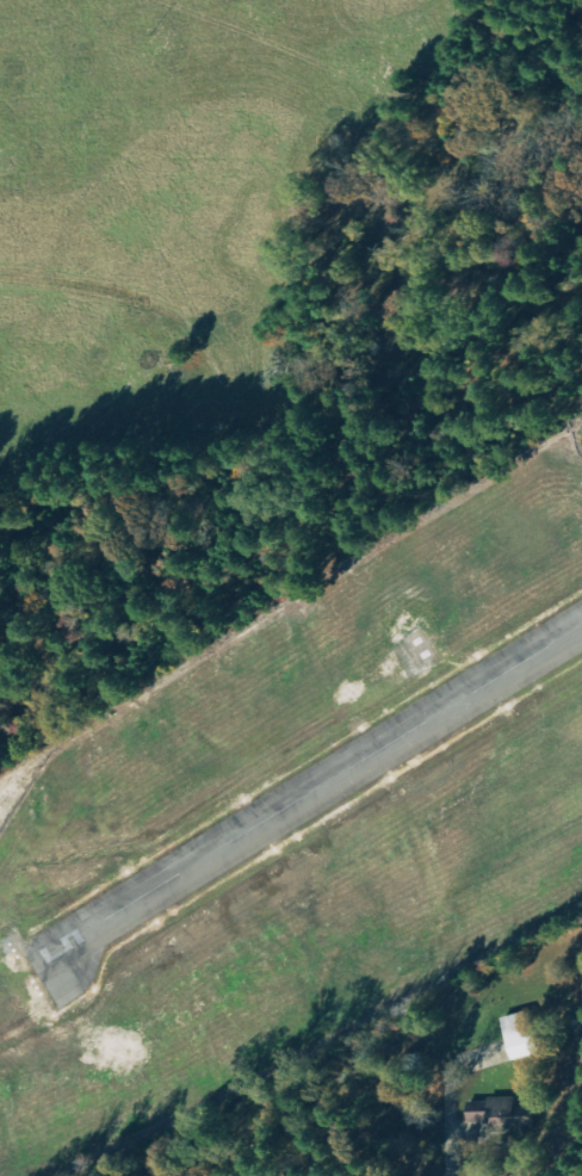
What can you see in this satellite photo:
airport runway: (308, 796)
airport: (298, 827)
building: (522, 1034)

